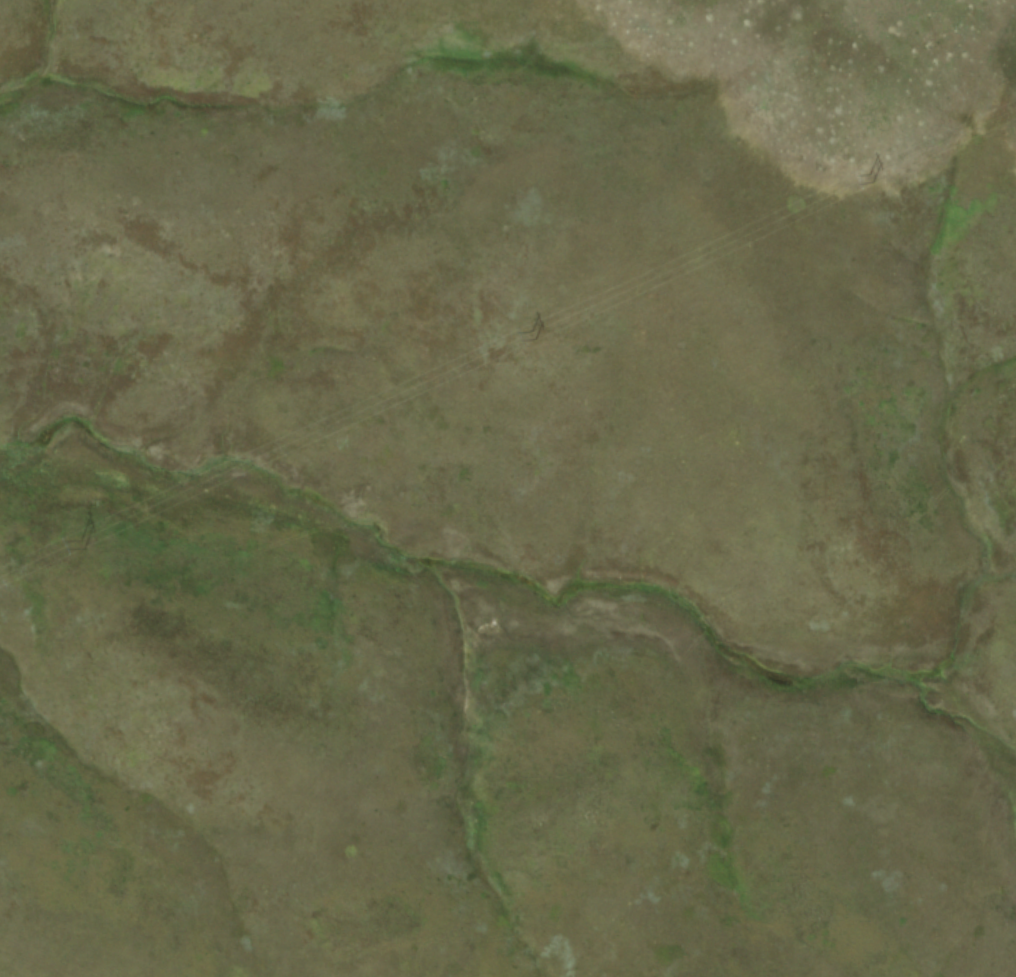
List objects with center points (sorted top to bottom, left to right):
power tower: (868, 177)
power tower: (531, 334)
power tower: (79, 545)

